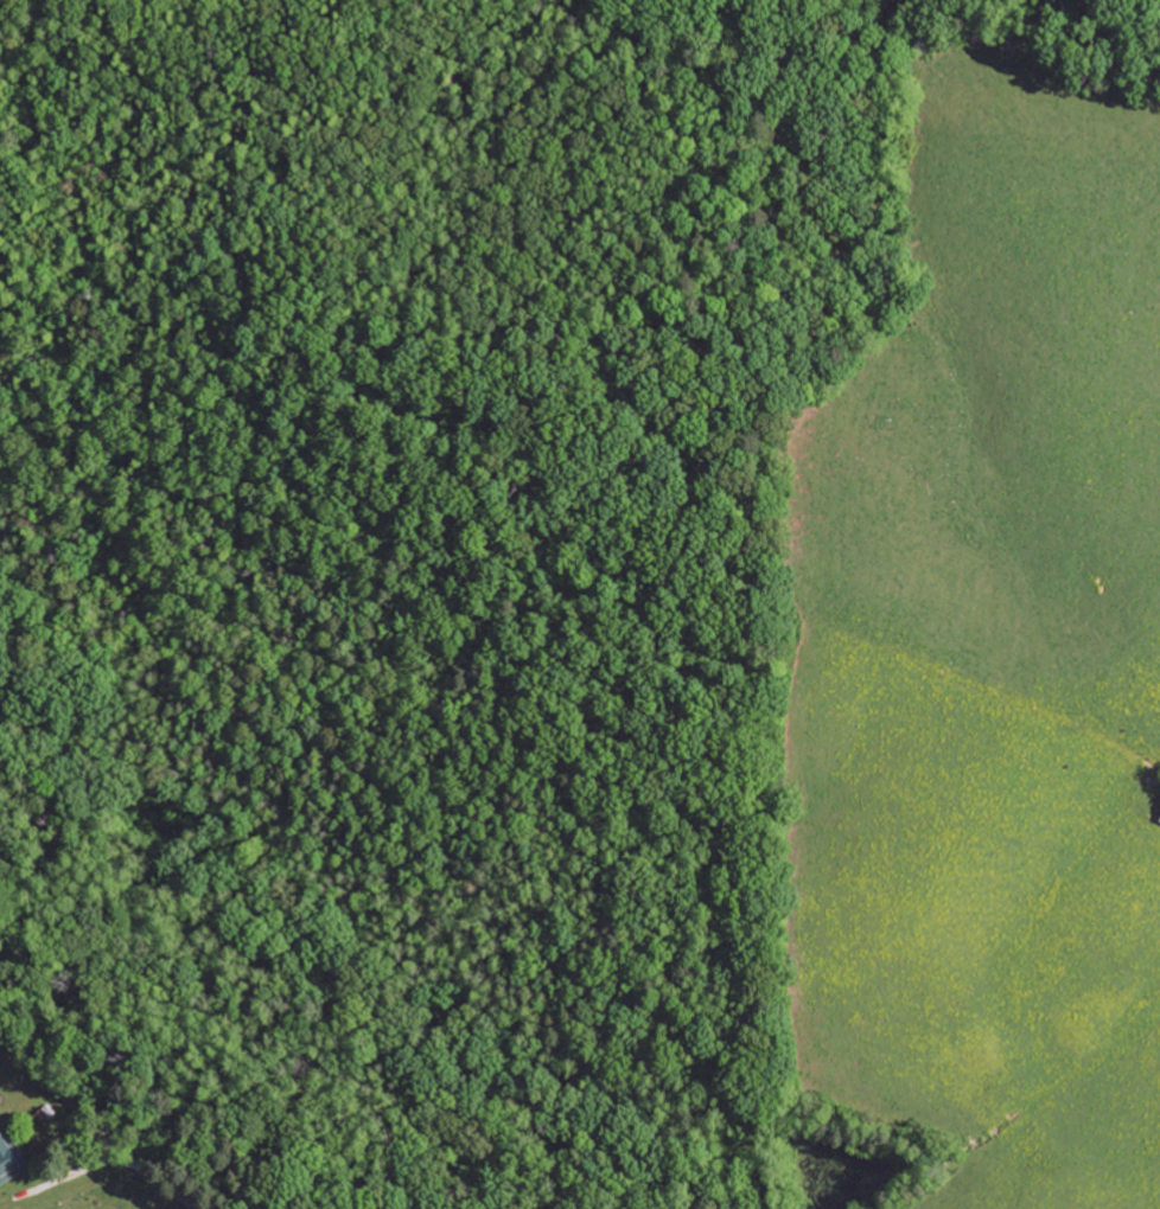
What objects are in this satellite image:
building: (11, 1163)

